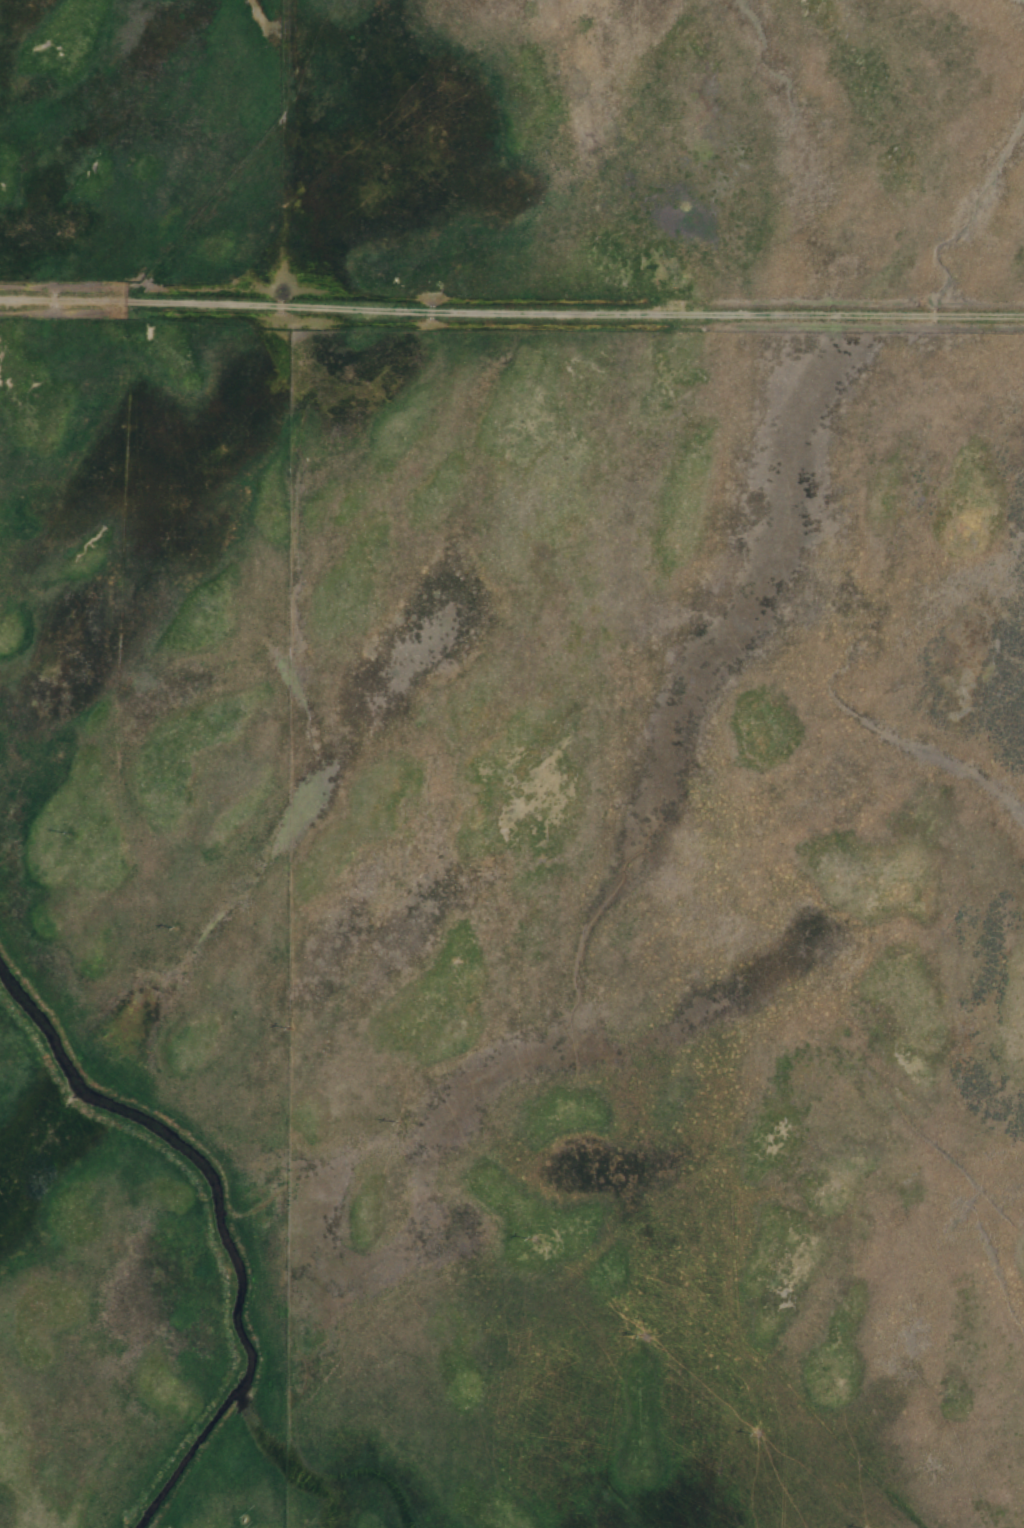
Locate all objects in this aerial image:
road: (511, 309)
crop: (506, 735)

